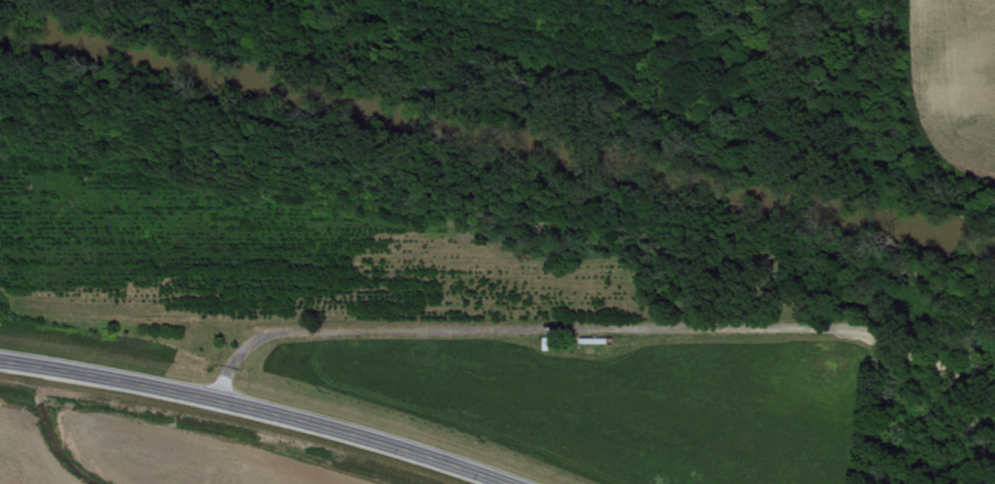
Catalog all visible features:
road: (595, 329)
road: (252, 408)
road: (869, 410)

